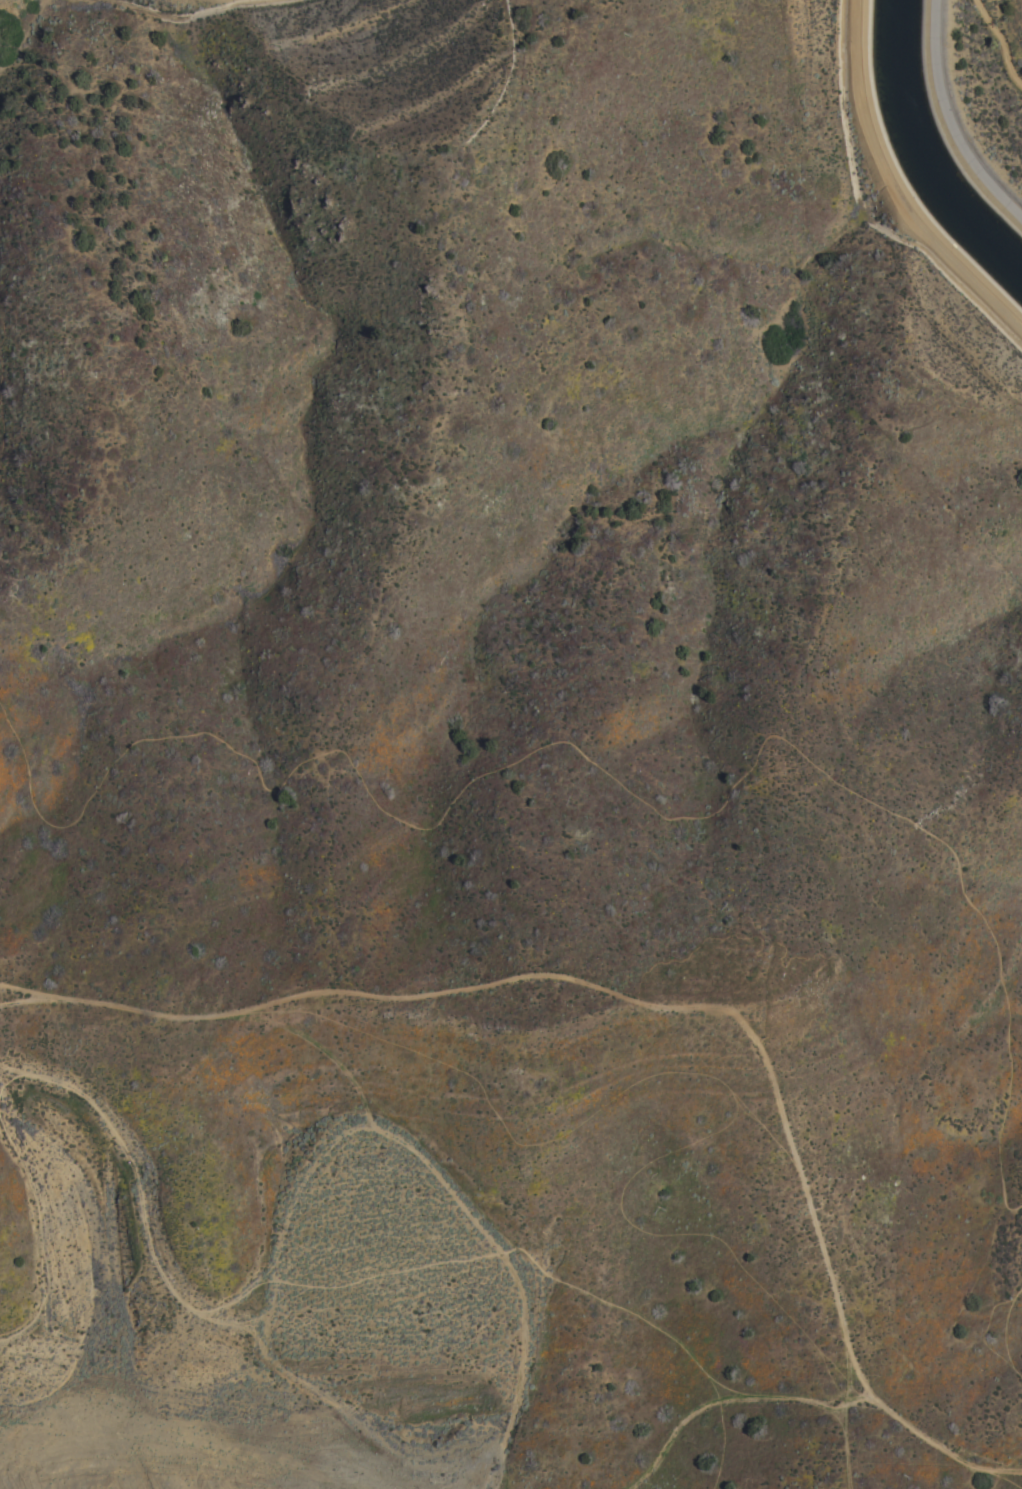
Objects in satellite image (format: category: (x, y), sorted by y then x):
road: (954, 117)
road: (893, 187)
road: (605, 774)
road: (15, 991)
road: (670, 994)
road: (344, 1144)
road: (46, 1239)
road: (378, 1273)
road: (1008, 1331)
road: (514, 1372)
road: (717, 1396)
road: (852, 1442)

